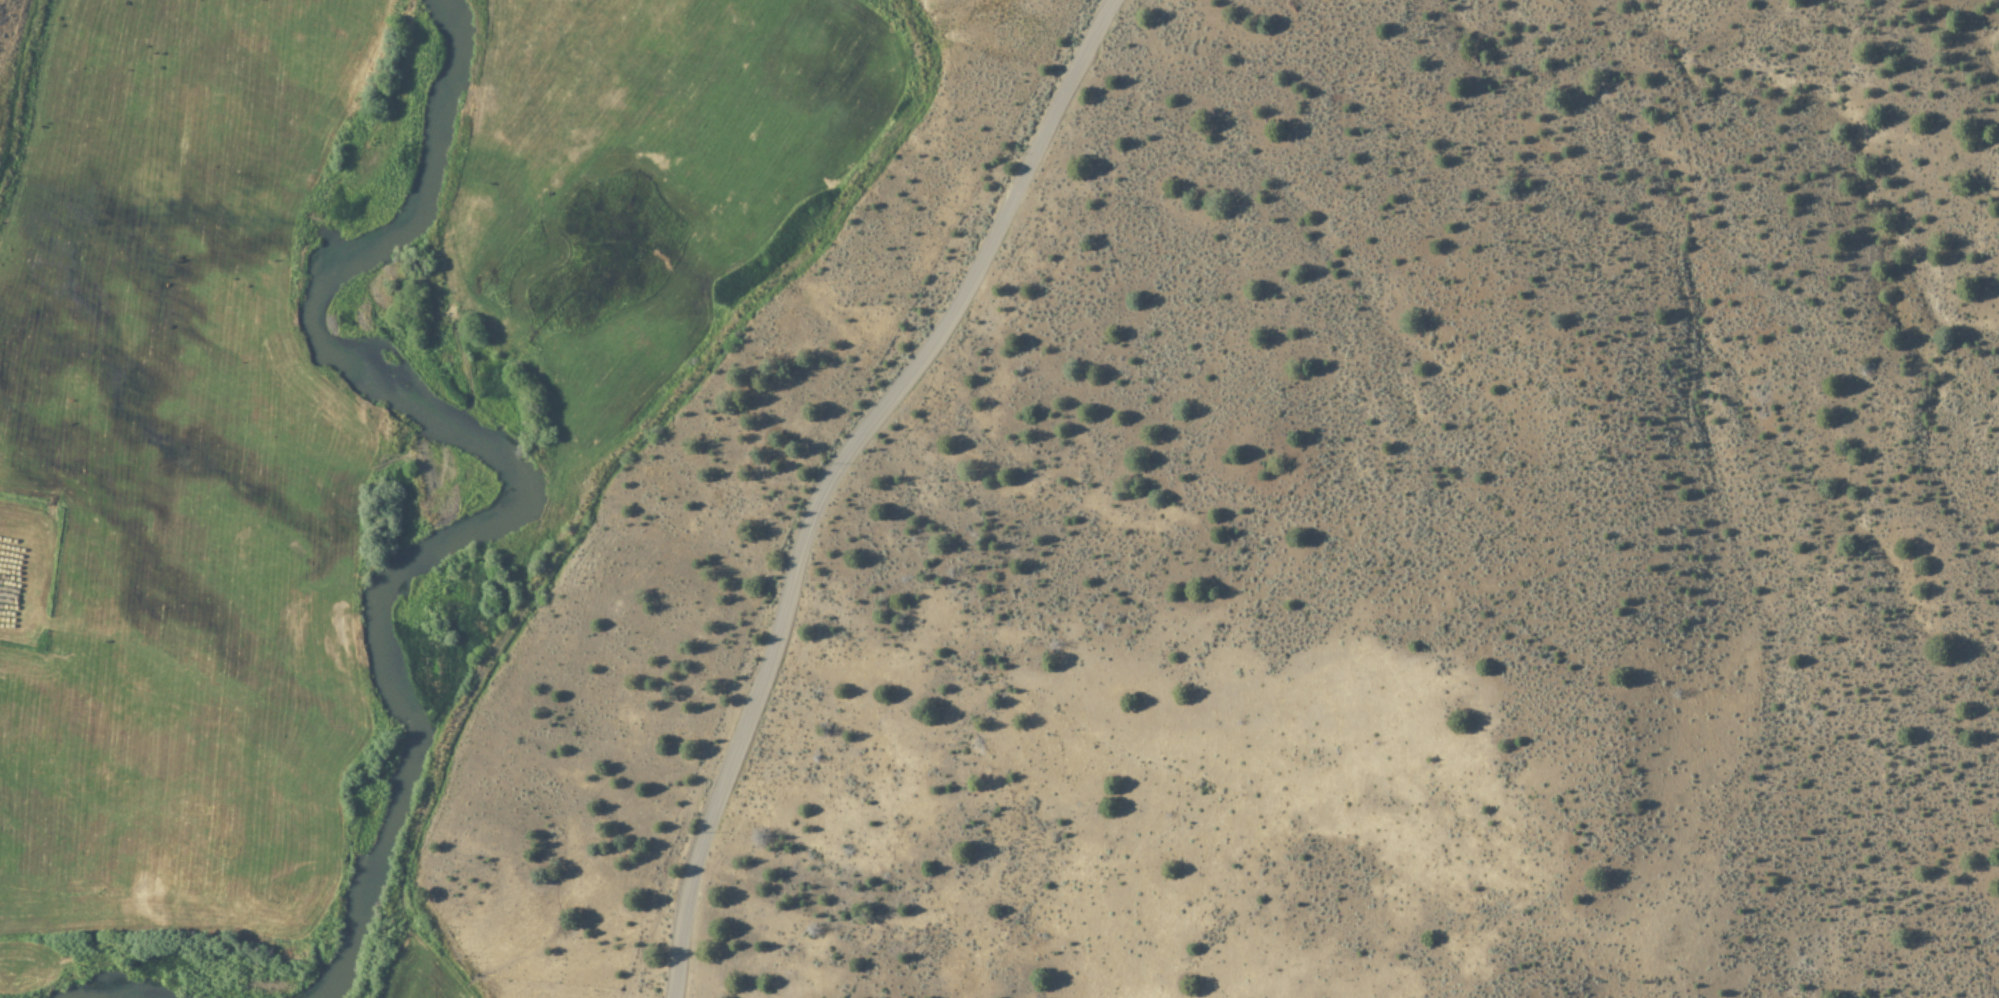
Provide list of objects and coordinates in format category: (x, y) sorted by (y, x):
river: (477, 469)
road: (841, 473)
river: (151, 972)

